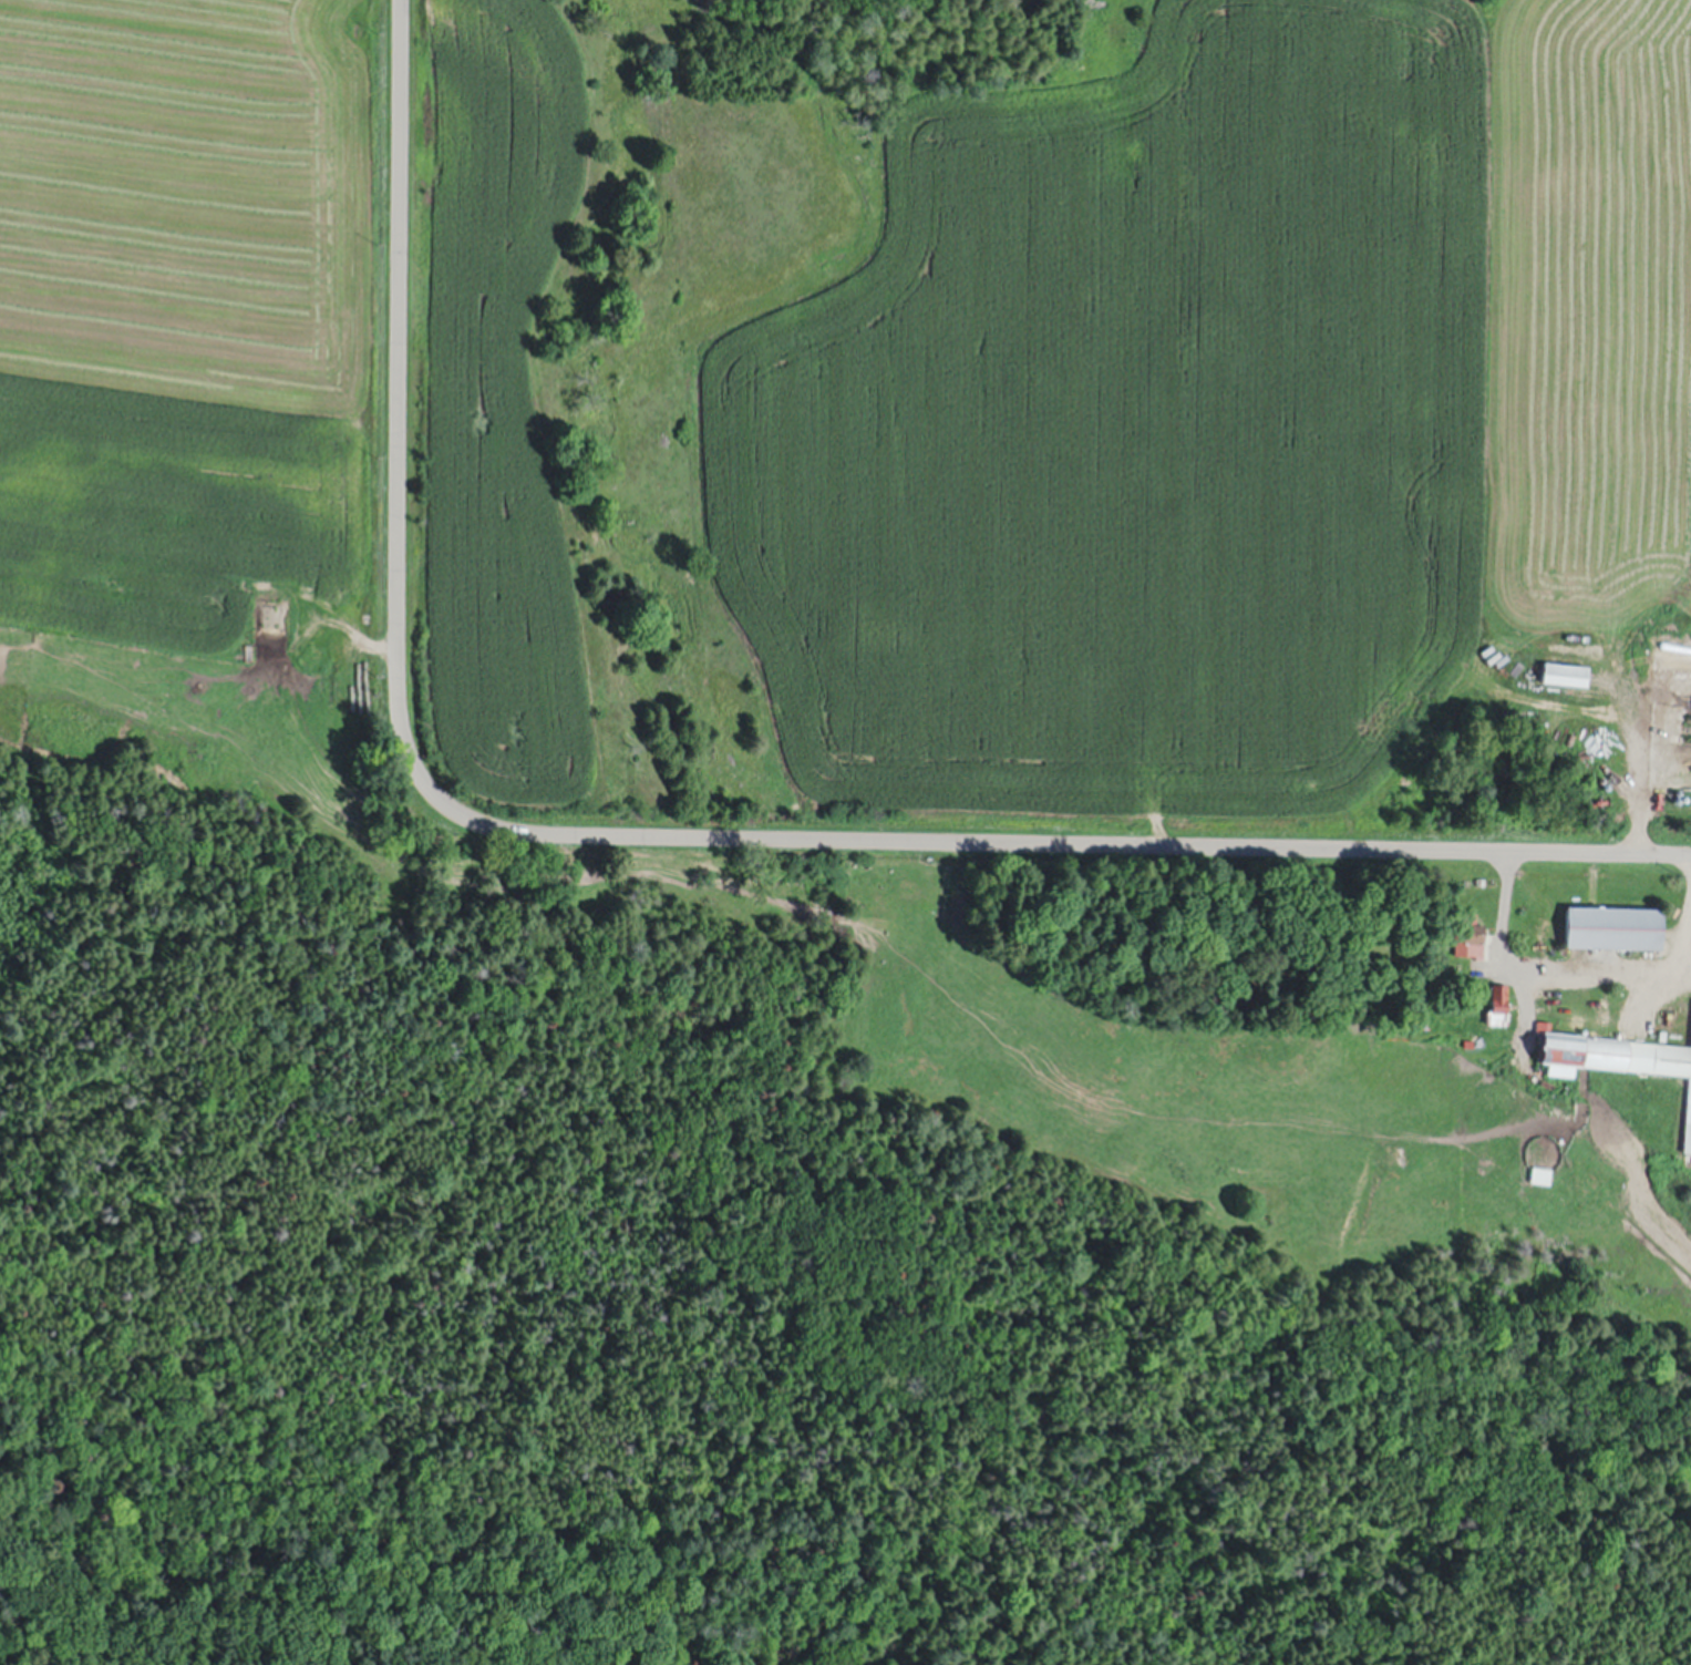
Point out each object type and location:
building: (115, 465)
building: (159, 470)
building: (64, 496)
road: (658, 834)
building: (1616, 925)
building: (1470, 934)
road: (1560, 967)
building: (1499, 1003)
building: (1636, 1019)
building: (1424, 1020)
building: (1545, 1024)
building: (1663, 1034)
building: (1471, 1044)
building: (1620, 1050)
building: (1688, 1123)
building: (1543, 1170)

